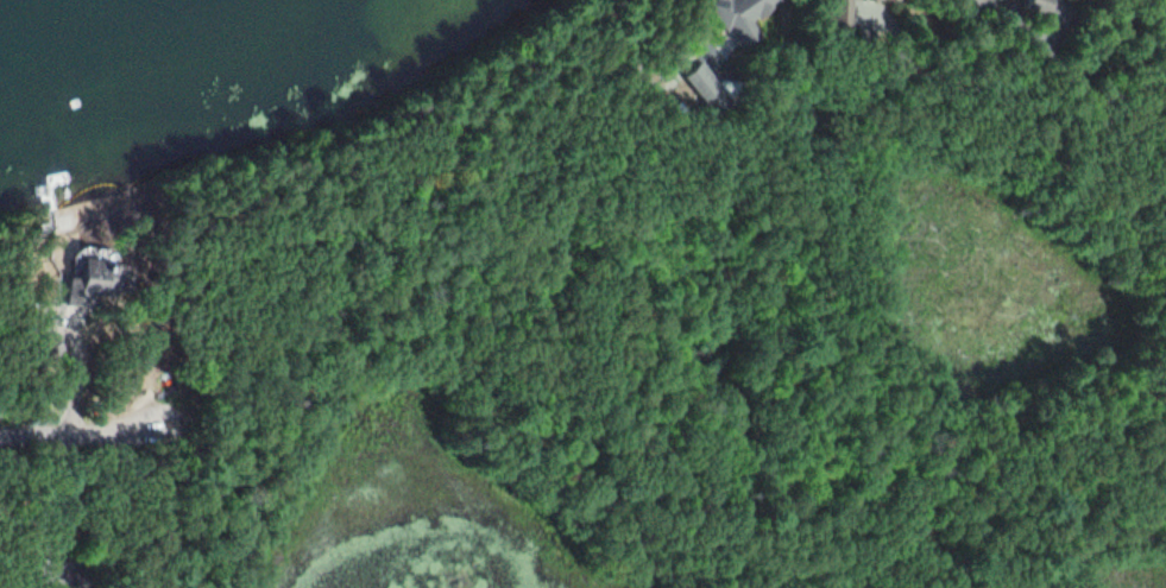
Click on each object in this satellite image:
building: (973, 4)
building: (1034, 5)
building: (837, 12)
building: (735, 17)
building: (701, 87)
road: (972, 87)
road: (506, 186)
building: (88, 280)
building: (43, 349)
road: (597, 390)
road: (76, 438)
road: (143, 467)

